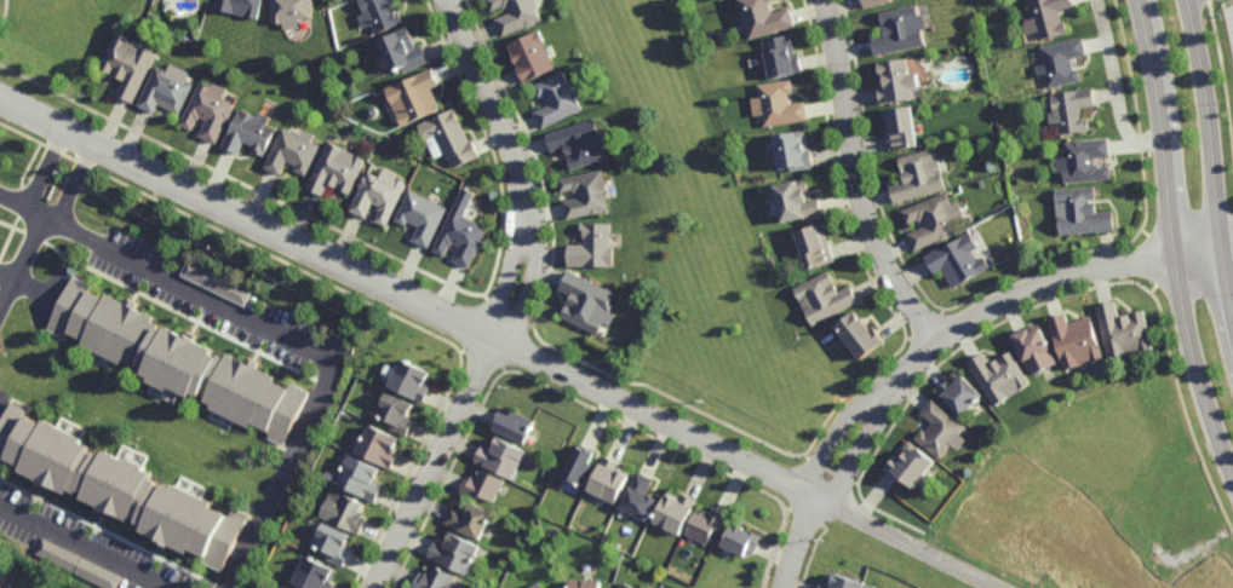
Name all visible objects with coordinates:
building: (874, 2)
building: (241, 7)
building: (291, 11)
building: (380, 15)
building: (516, 15)
building: (1049, 16)
building: (763, 18)
building: (900, 31)
building: (406, 52)
building: (529, 57)
building: (779, 58)
building: (1061, 63)
building: (128, 65)
building: (896, 82)
road: (1118, 87)
building: (166, 90)
building: (415, 97)
building: (555, 102)
building: (780, 105)
building: (210, 110)
building: (1071, 110)
building: (373, 111)
building: (900, 129)
building: (251, 133)
building: (449, 139)
building: (580, 144)
building: (294, 151)
building: (792, 154)
building: (1084, 162)
road: (1212, 166)
building: (338, 169)
road: (44, 171)
building: (918, 178)
road: (859, 180)
road: (73, 185)
building: (584, 194)
building: (380, 196)
building: (795, 203)
road: (19, 206)
building: (1080, 212)
building: (420, 214)
building: (934, 219)
building: (459, 231)
road: (1174, 238)
building: (814, 243)
building: (591, 244)
road: (19, 258)
building: (957, 258)
building: (216, 279)
road: (1038, 288)
road: (409, 295)
building: (822, 296)
road: (515, 300)
building: (585, 300)
building: (1123, 329)
building: (858, 332)
building: (1076, 339)
road: (294, 342)
building: (1034, 347)
building: (177, 357)
building: (999, 375)
building: (411, 377)
building: (960, 391)
building: (395, 410)
building: (511, 423)
building: (941, 428)
road: (837, 434)
building: (379, 443)
road: (860, 449)
building: (499, 456)
building: (578, 463)
building: (910, 463)
building: (328, 473)
building: (360, 475)
building: (607, 478)
building: (480, 484)
building: (117, 485)
building: (637, 496)
building: (344, 509)
building: (672, 511)
building: (466, 519)
building: (704, 523)
building: (587, 526)
building: (740, 538)
building: (333, 541)
road: (798, 542)
road: (908, 543)
road: (82, 547)
building: (452, 552)
building: (76, 563)
building: (315, 573)
building: (434, 578)
building: (843, 582)
building: (5, 583)
building: (580, 583)
building: (288, 586)
building: (534, 586)
building: (625, 586)

